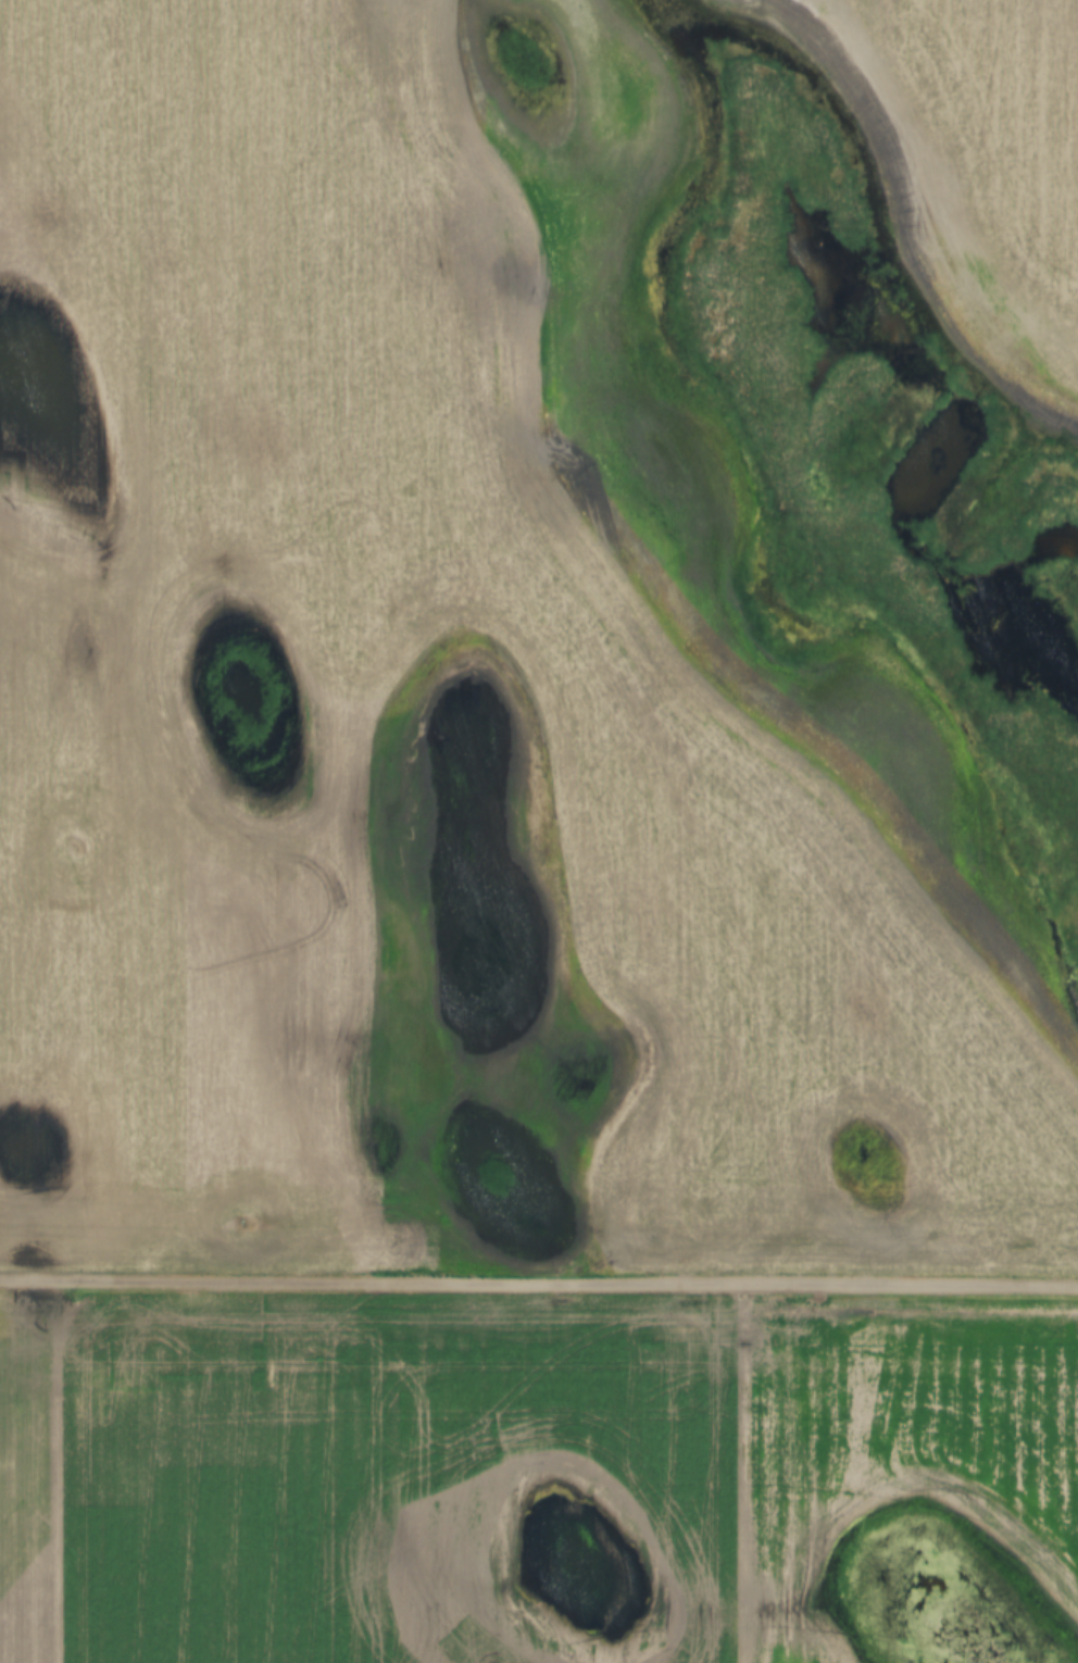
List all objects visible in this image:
road: (538, 1278)

